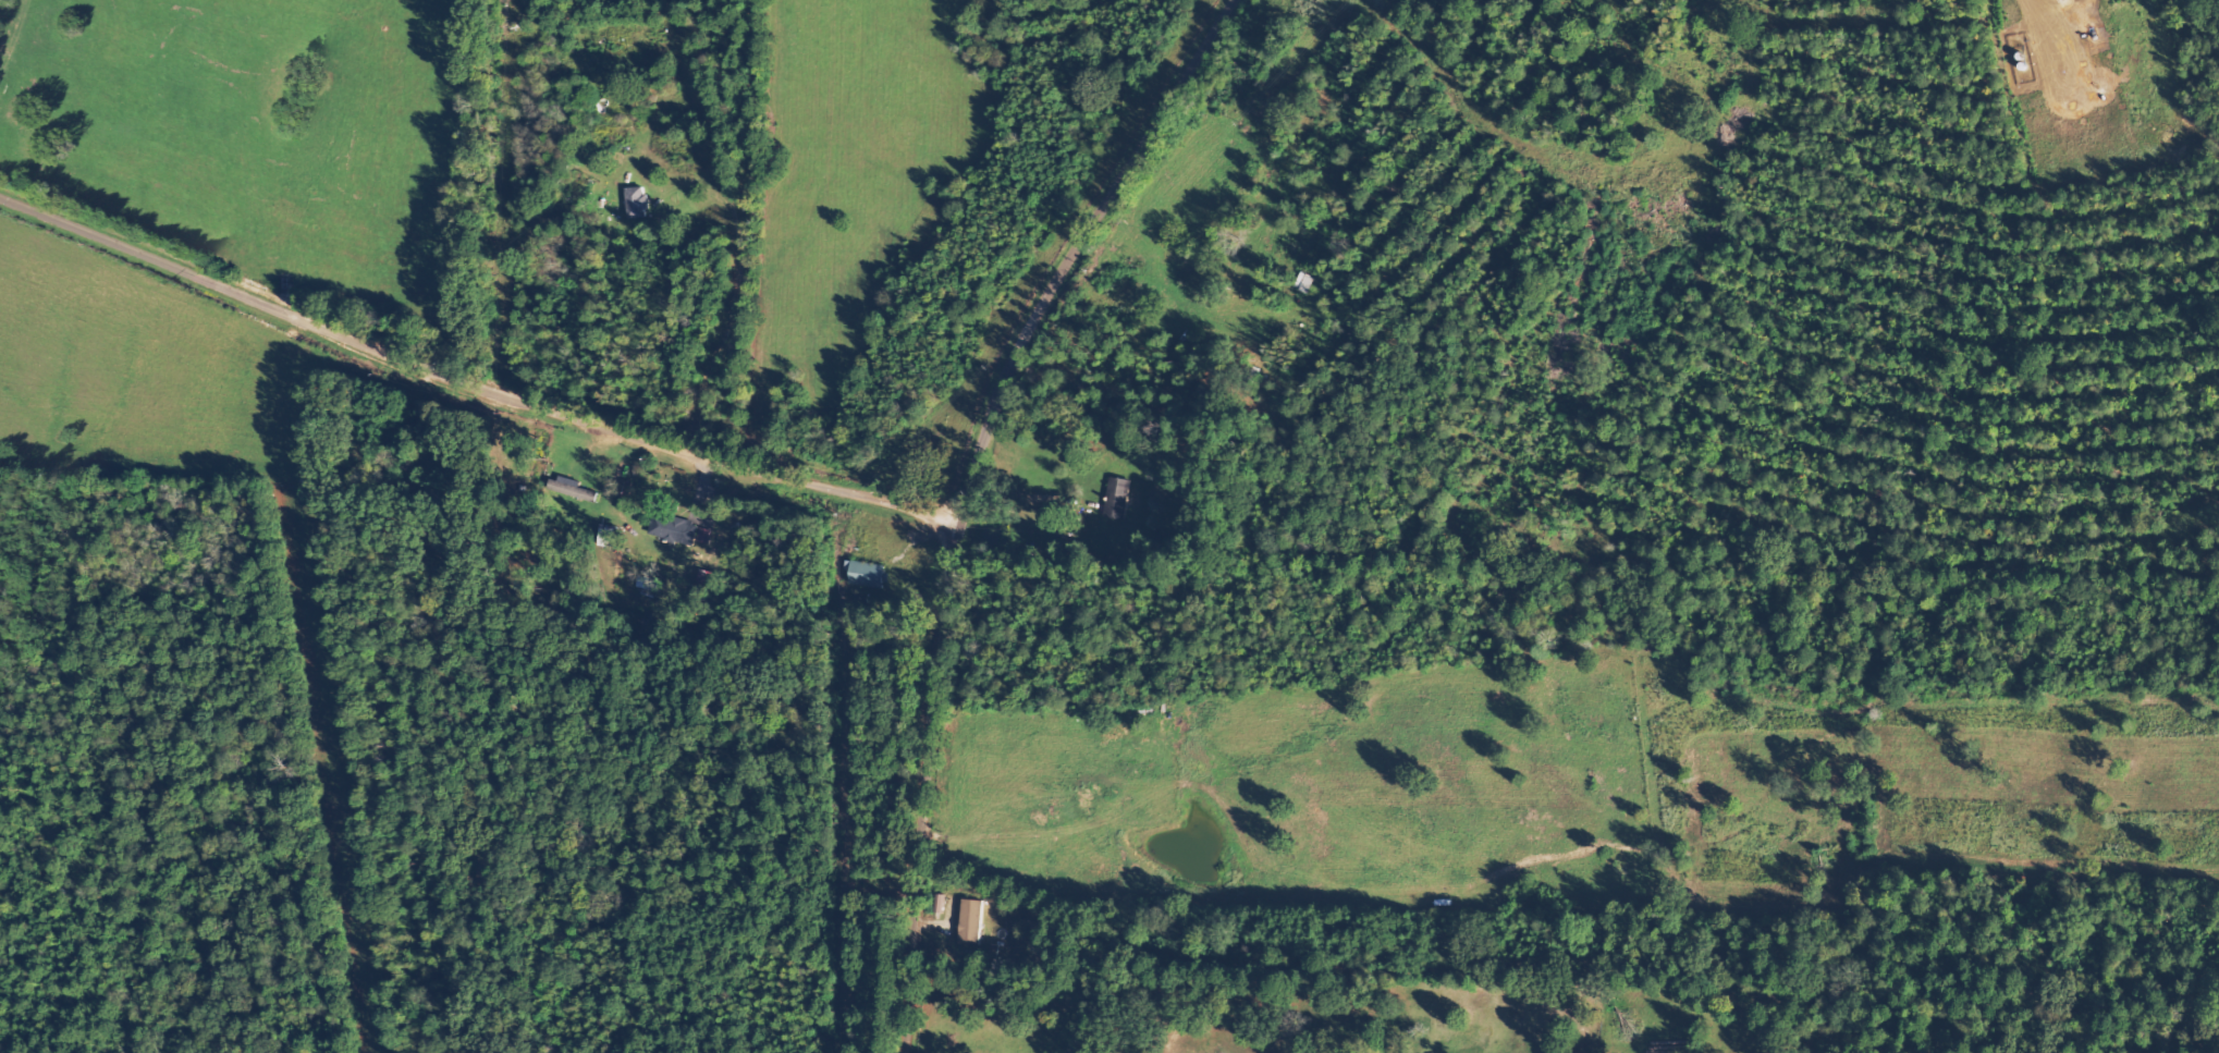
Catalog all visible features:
building: (643, 203)
road: (825, 245)
road: (462, 407)
road: (959, 487)
building: (573, 489)
building: (1118, 498)
building: (676, 528)
building: (867, 574)
building: (971, 921)

